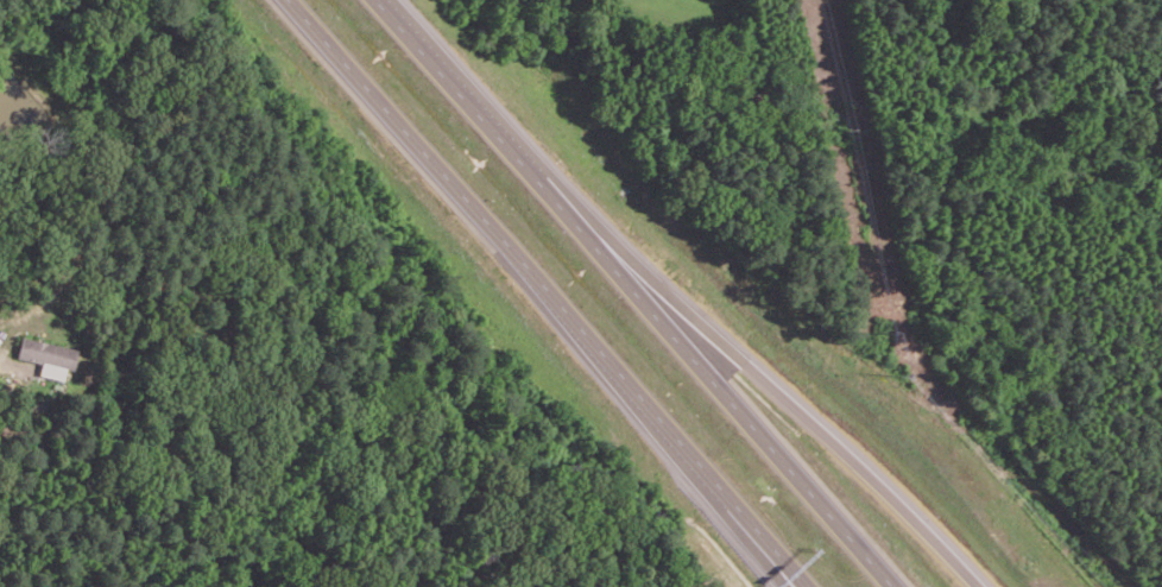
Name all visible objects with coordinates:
road: (450, 182)
road: (637, 293)
building: (48, 355)
road: (791, 404)
road: (672, 434)
road: (760, 544)
road: (770, 544)

